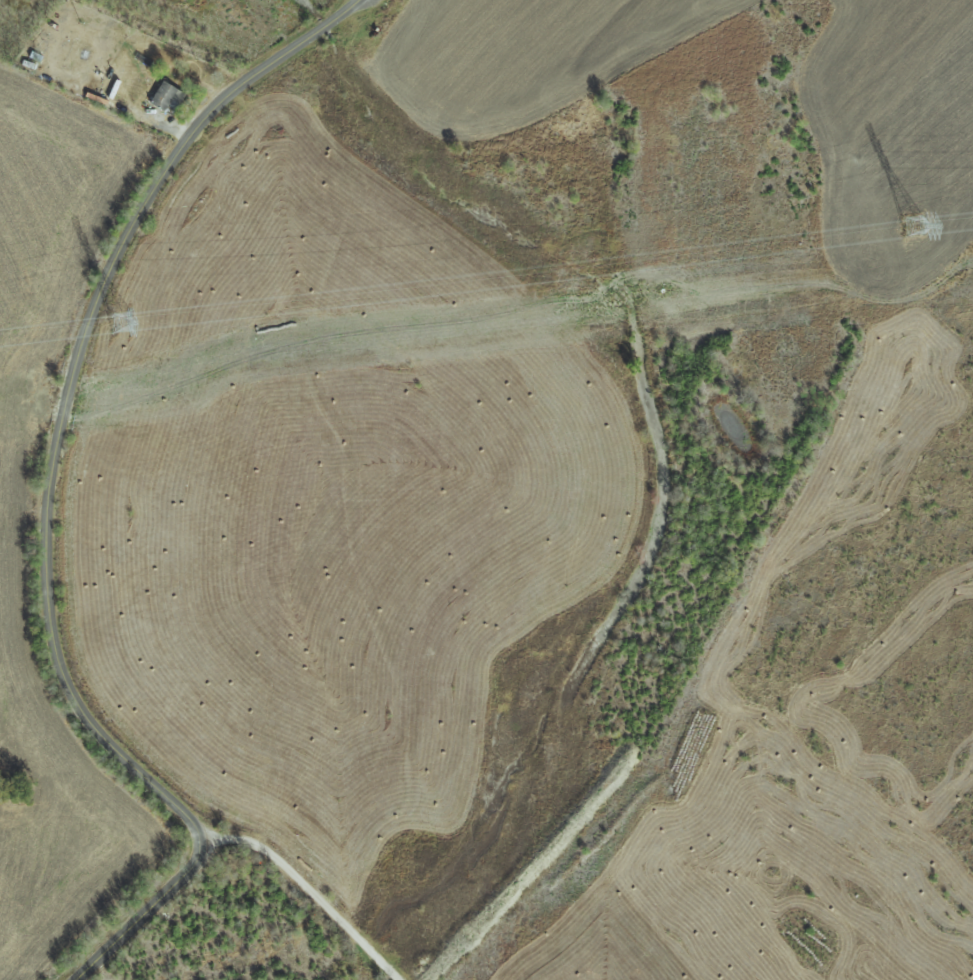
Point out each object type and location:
building: (168, 95)
power tower: (911, 225)
power tower: (121, 320)
road: (50, 488)
road: (310, 892)

